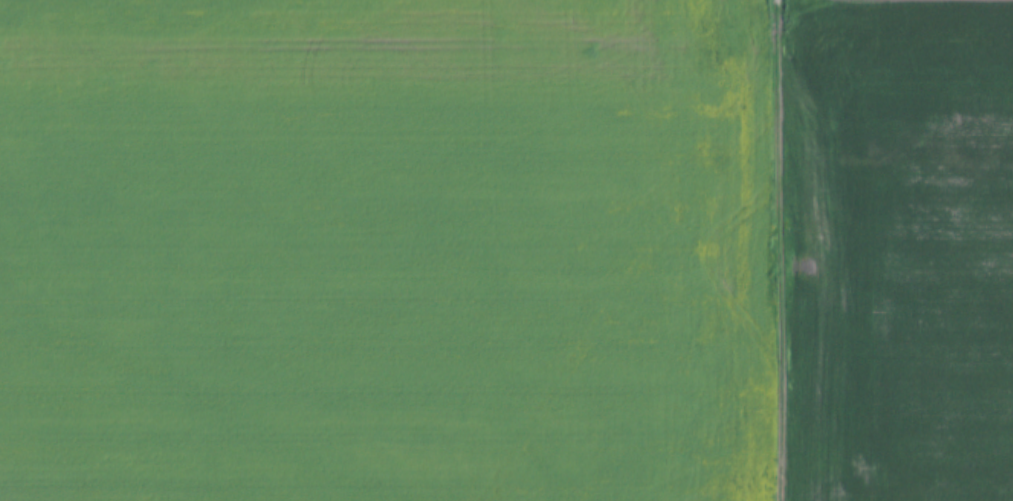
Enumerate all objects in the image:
road: (782, 250)

